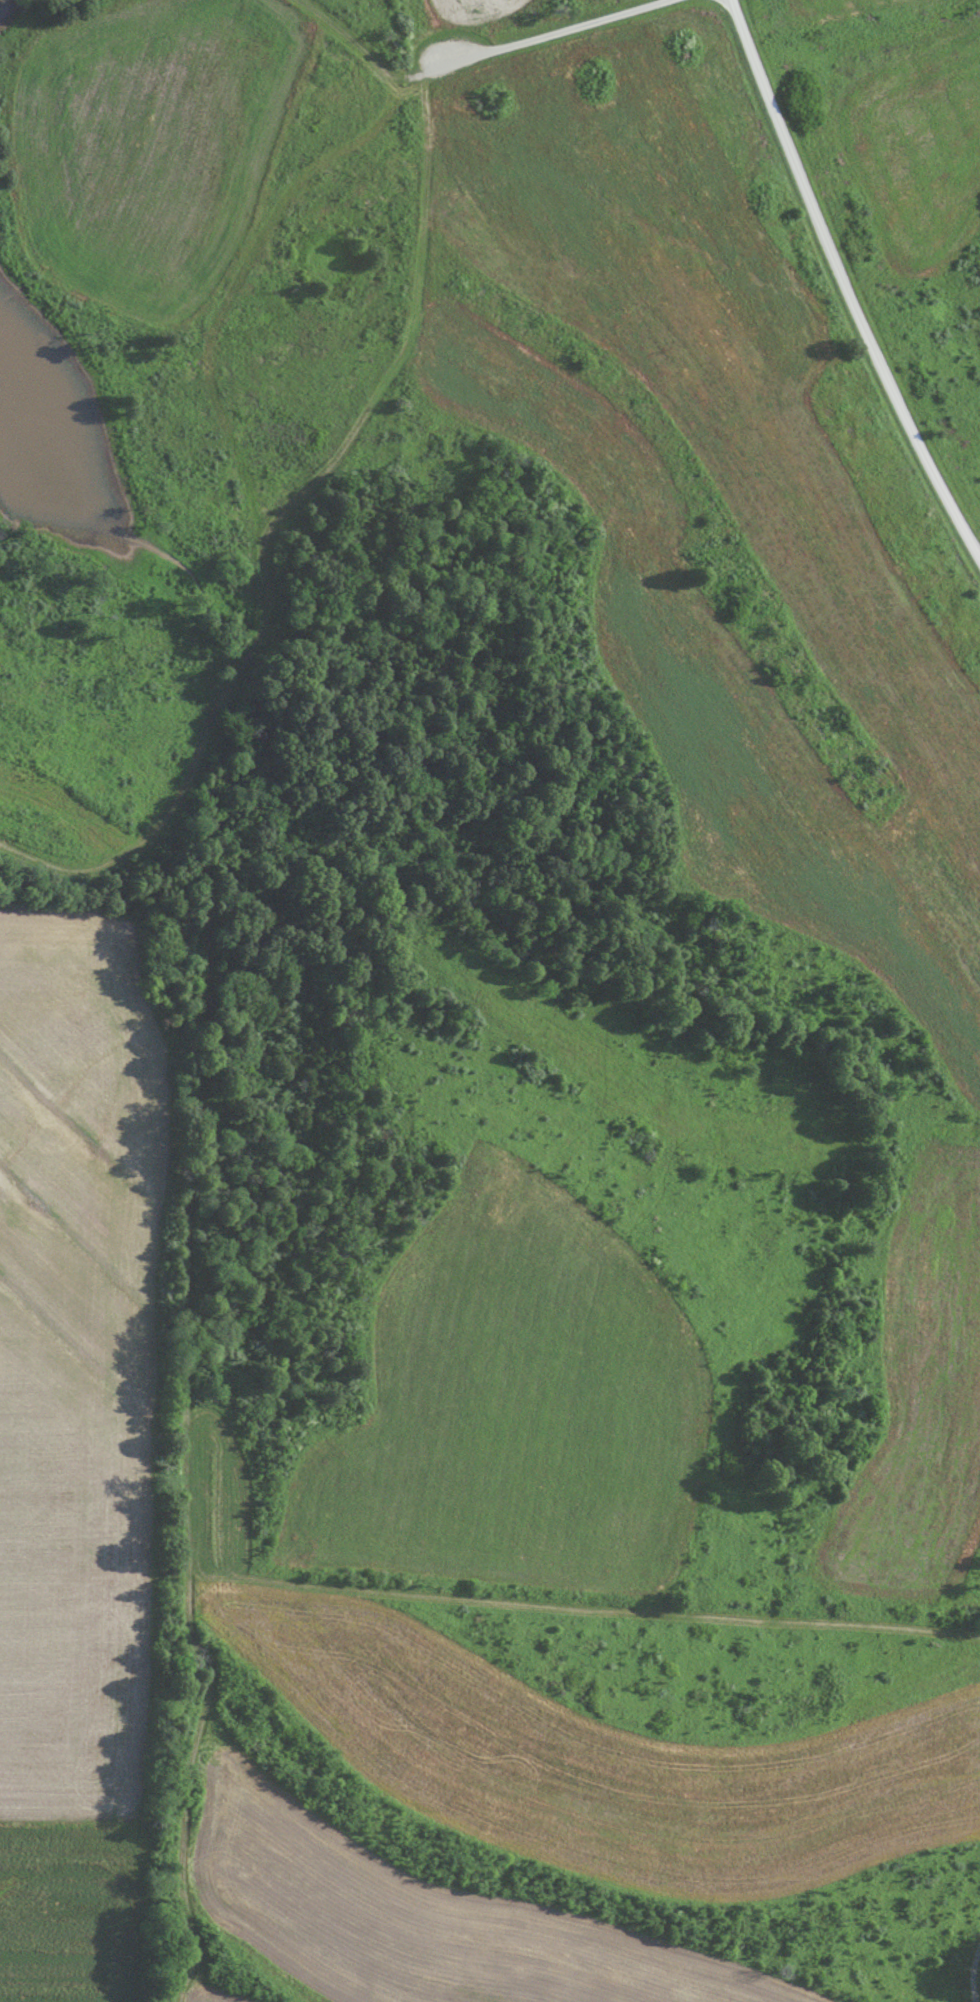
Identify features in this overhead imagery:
road: (841, 286)

